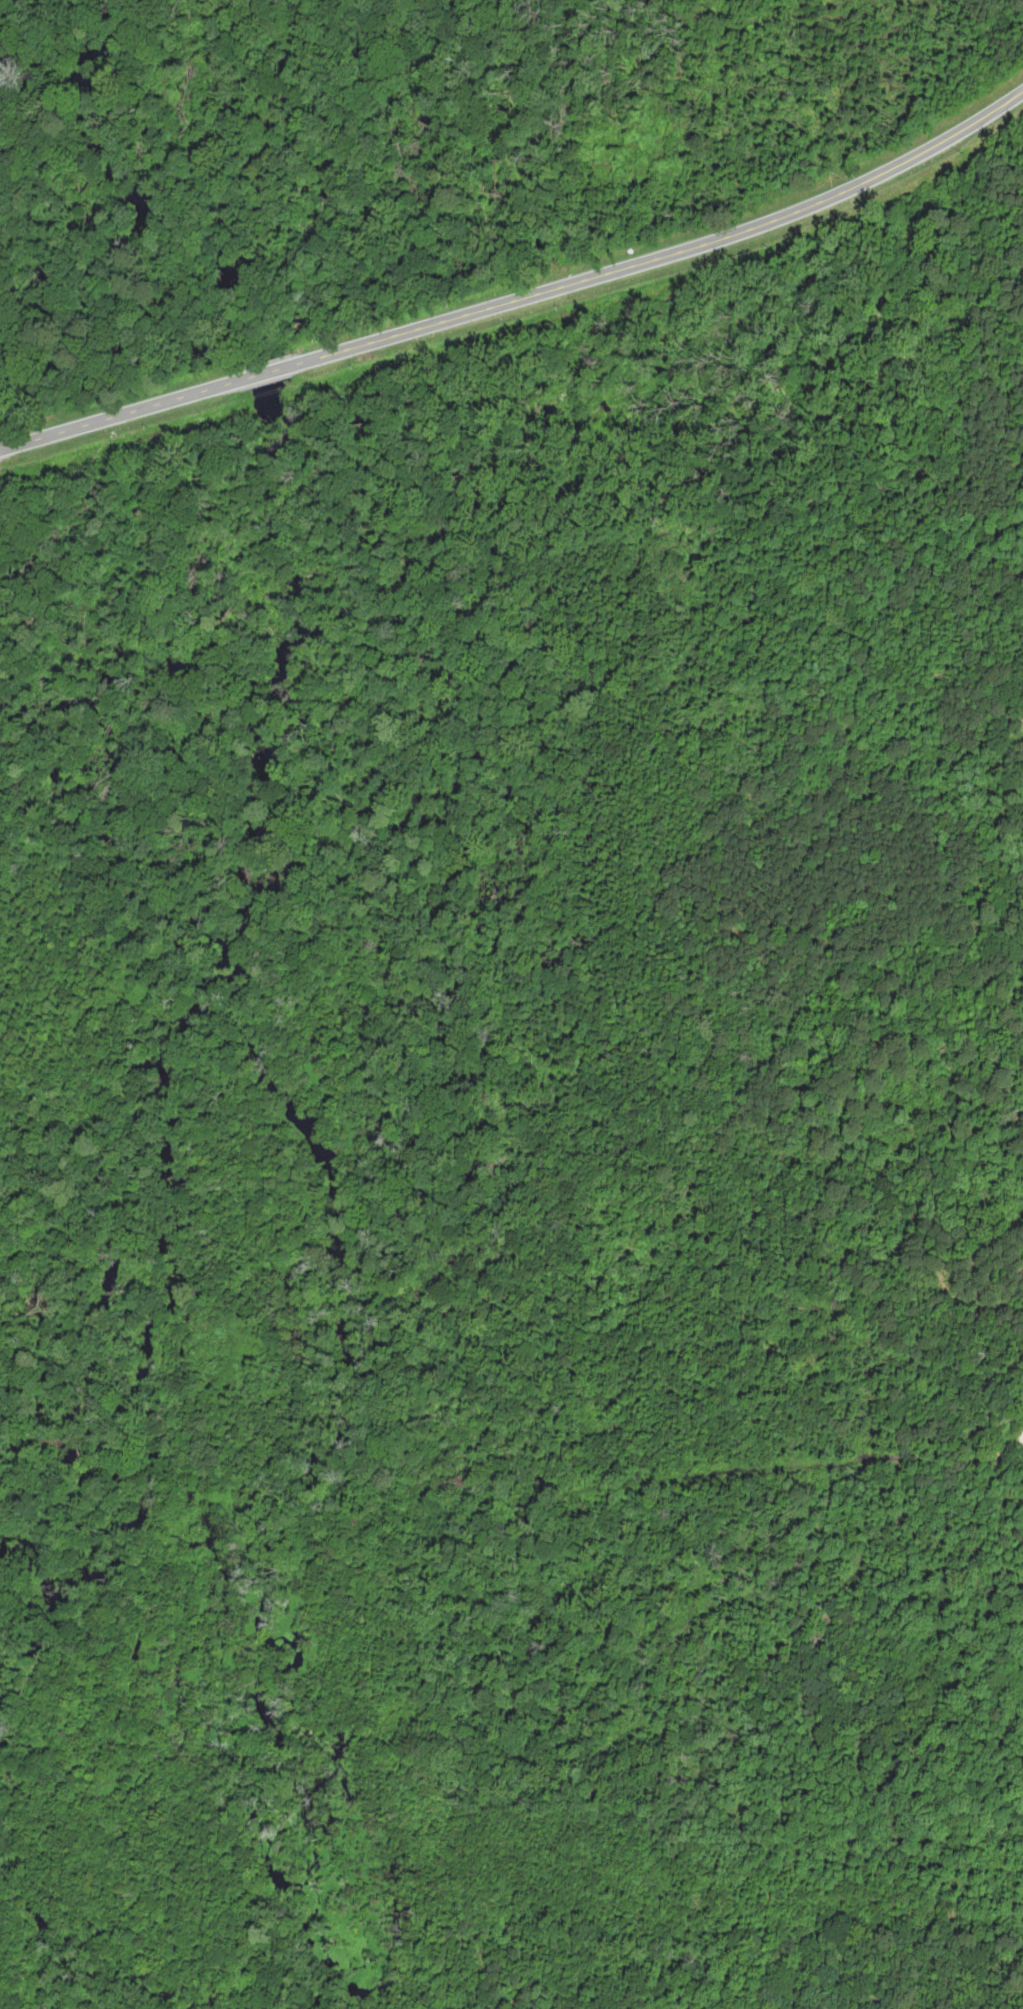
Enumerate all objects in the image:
road: (672, 262)
road: (266, 375)
road: (120, 422)
road: (2, 448)
road: (1009, 1225)

